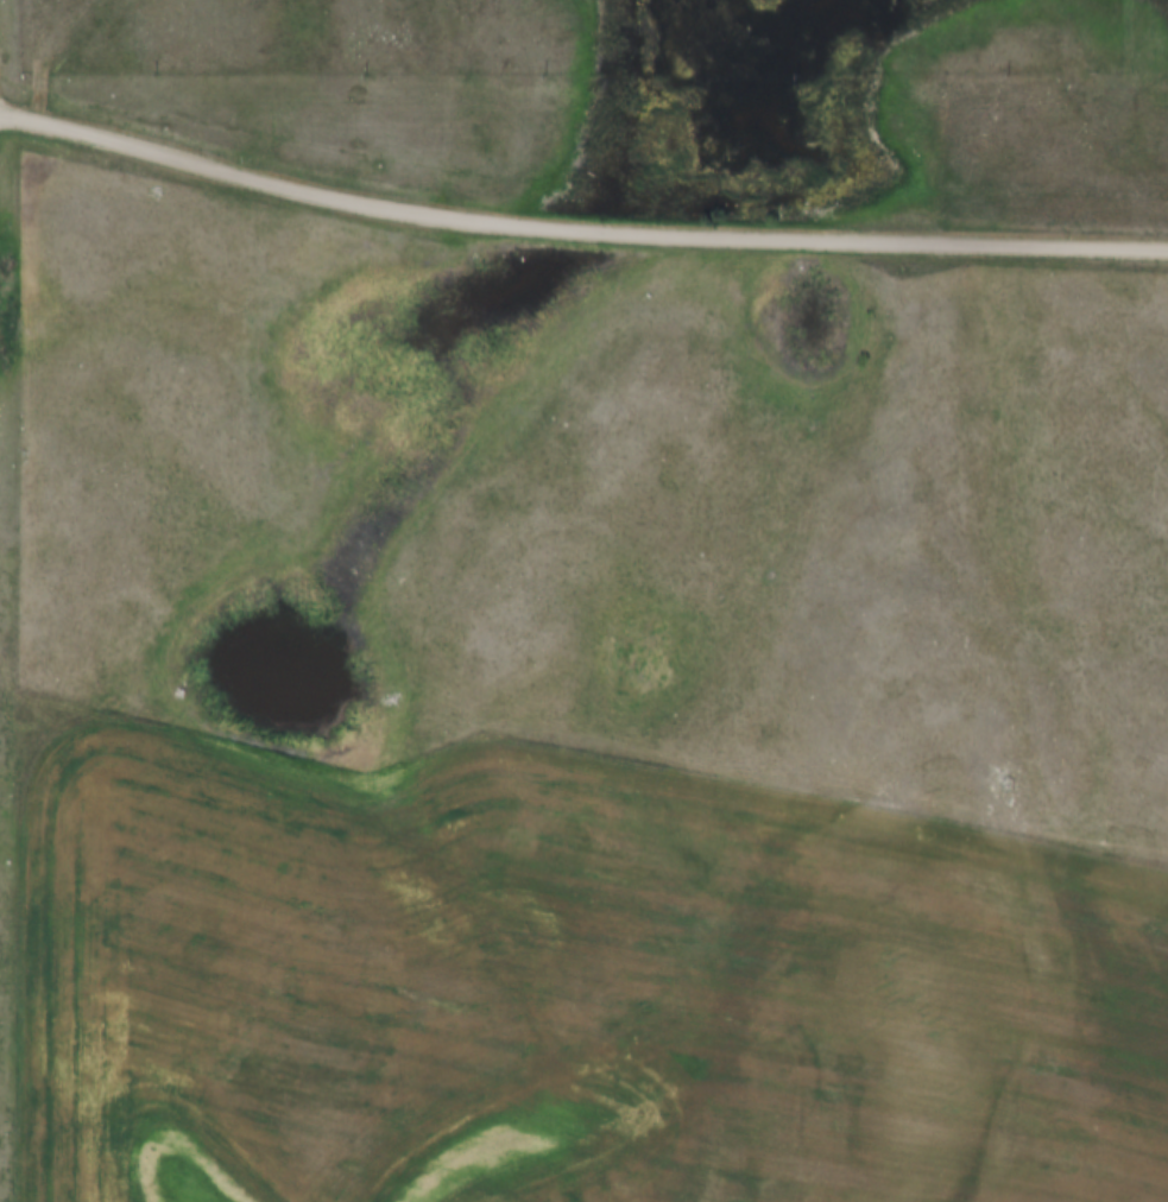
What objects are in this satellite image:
road: (576, 229)

